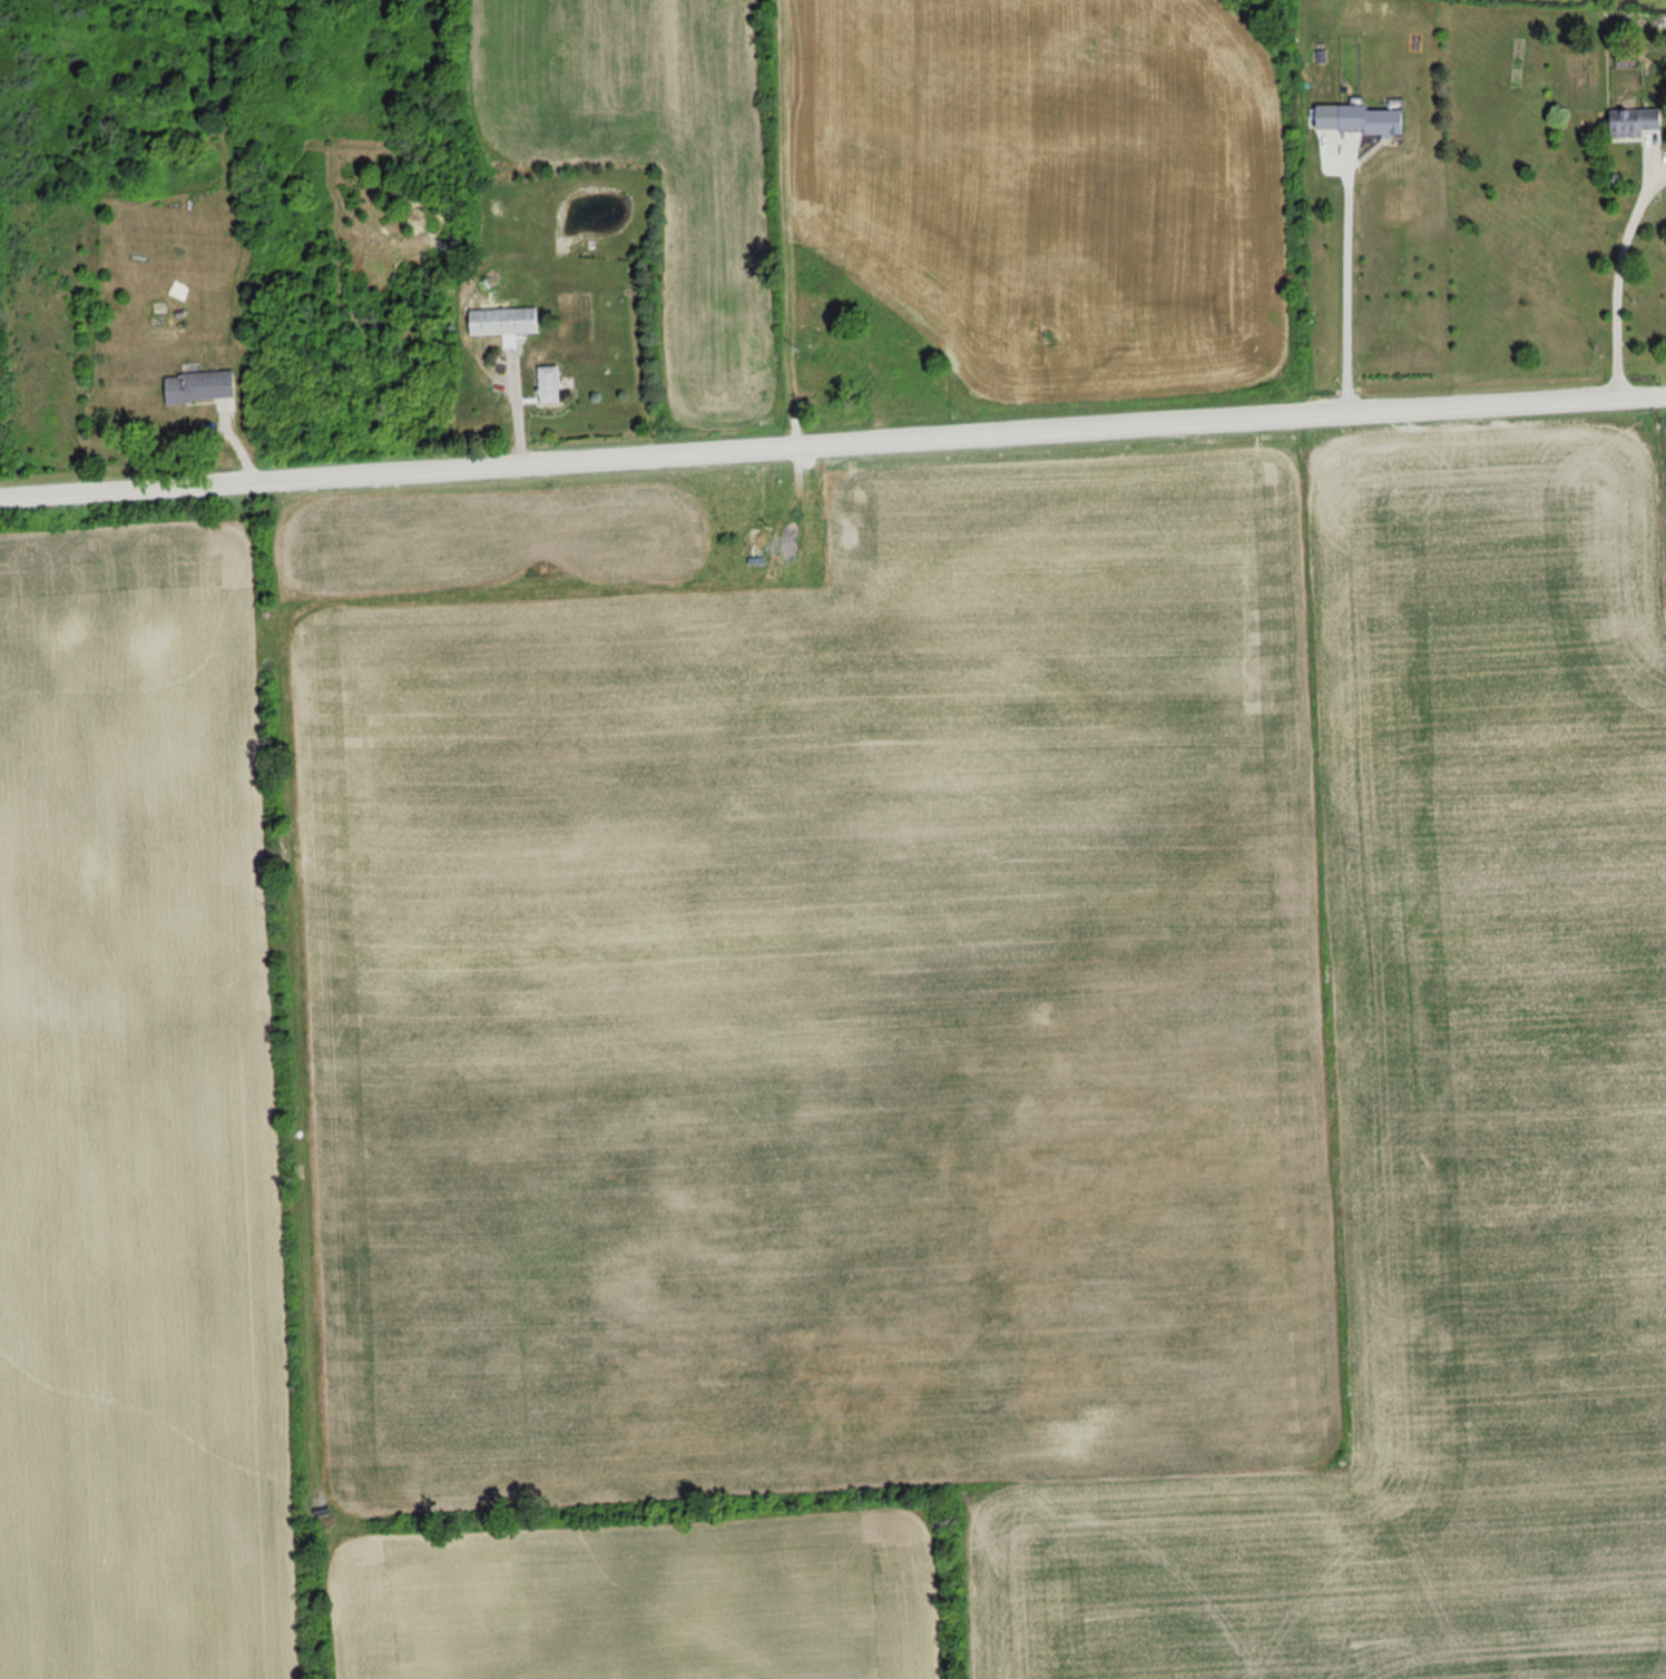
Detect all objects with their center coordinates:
building: (1369, 119)
building: (1634, 121)
road: (1618, 273)
road: (1347, 289)
building: (502, 320)
building: (548, 384)
building: (198, 385)
building: (471, 418)
road: (832, 448)

